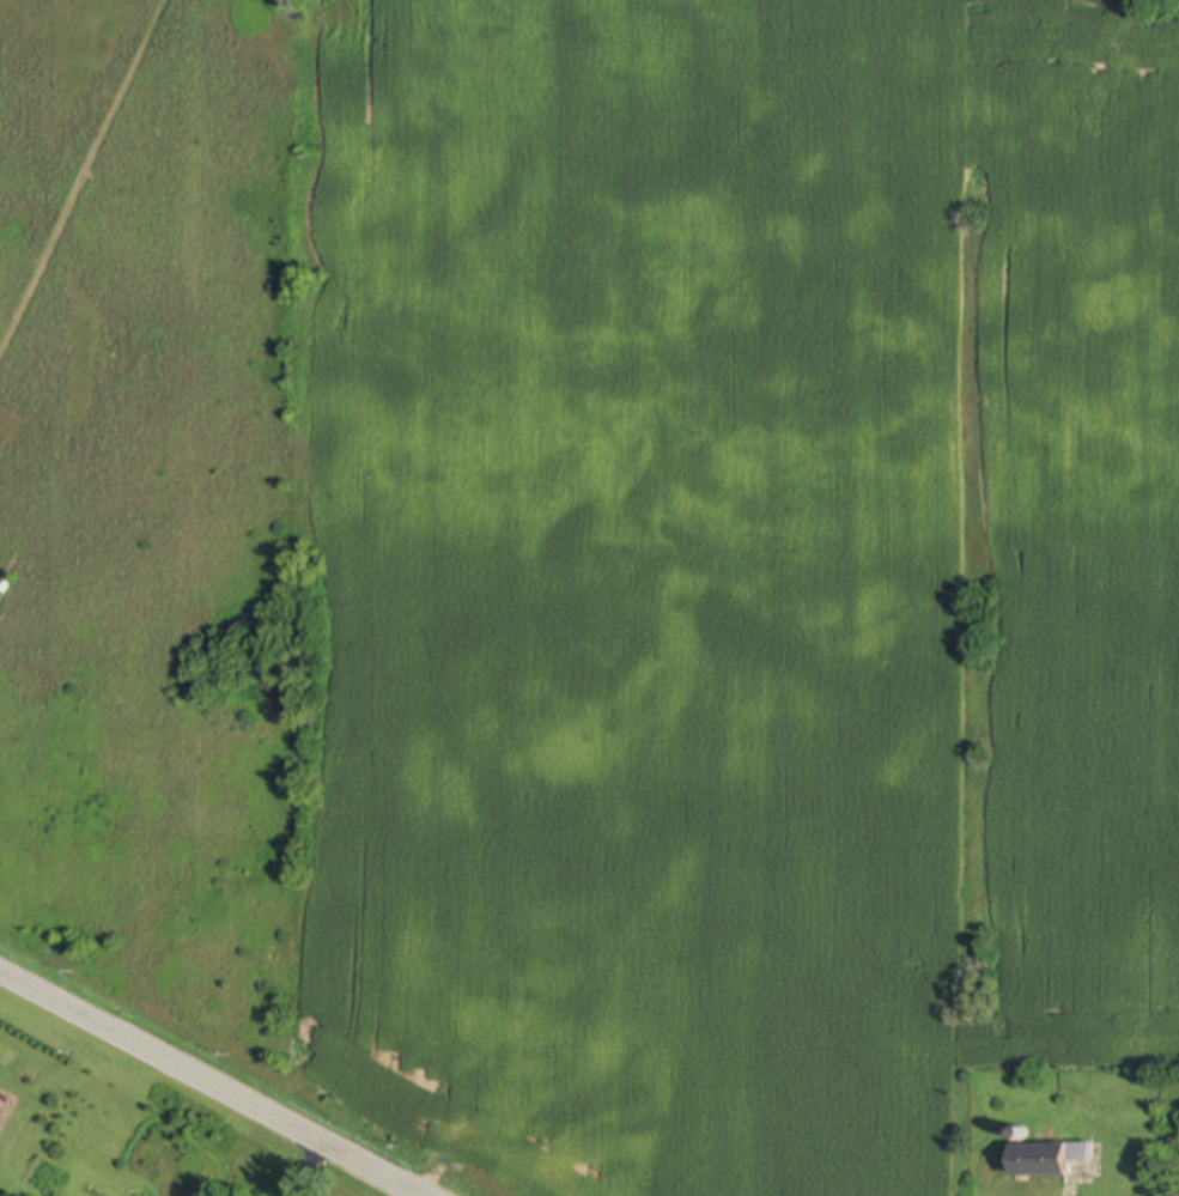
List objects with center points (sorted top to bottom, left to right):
road: (206, 1088)
building: (1040, 1161)

